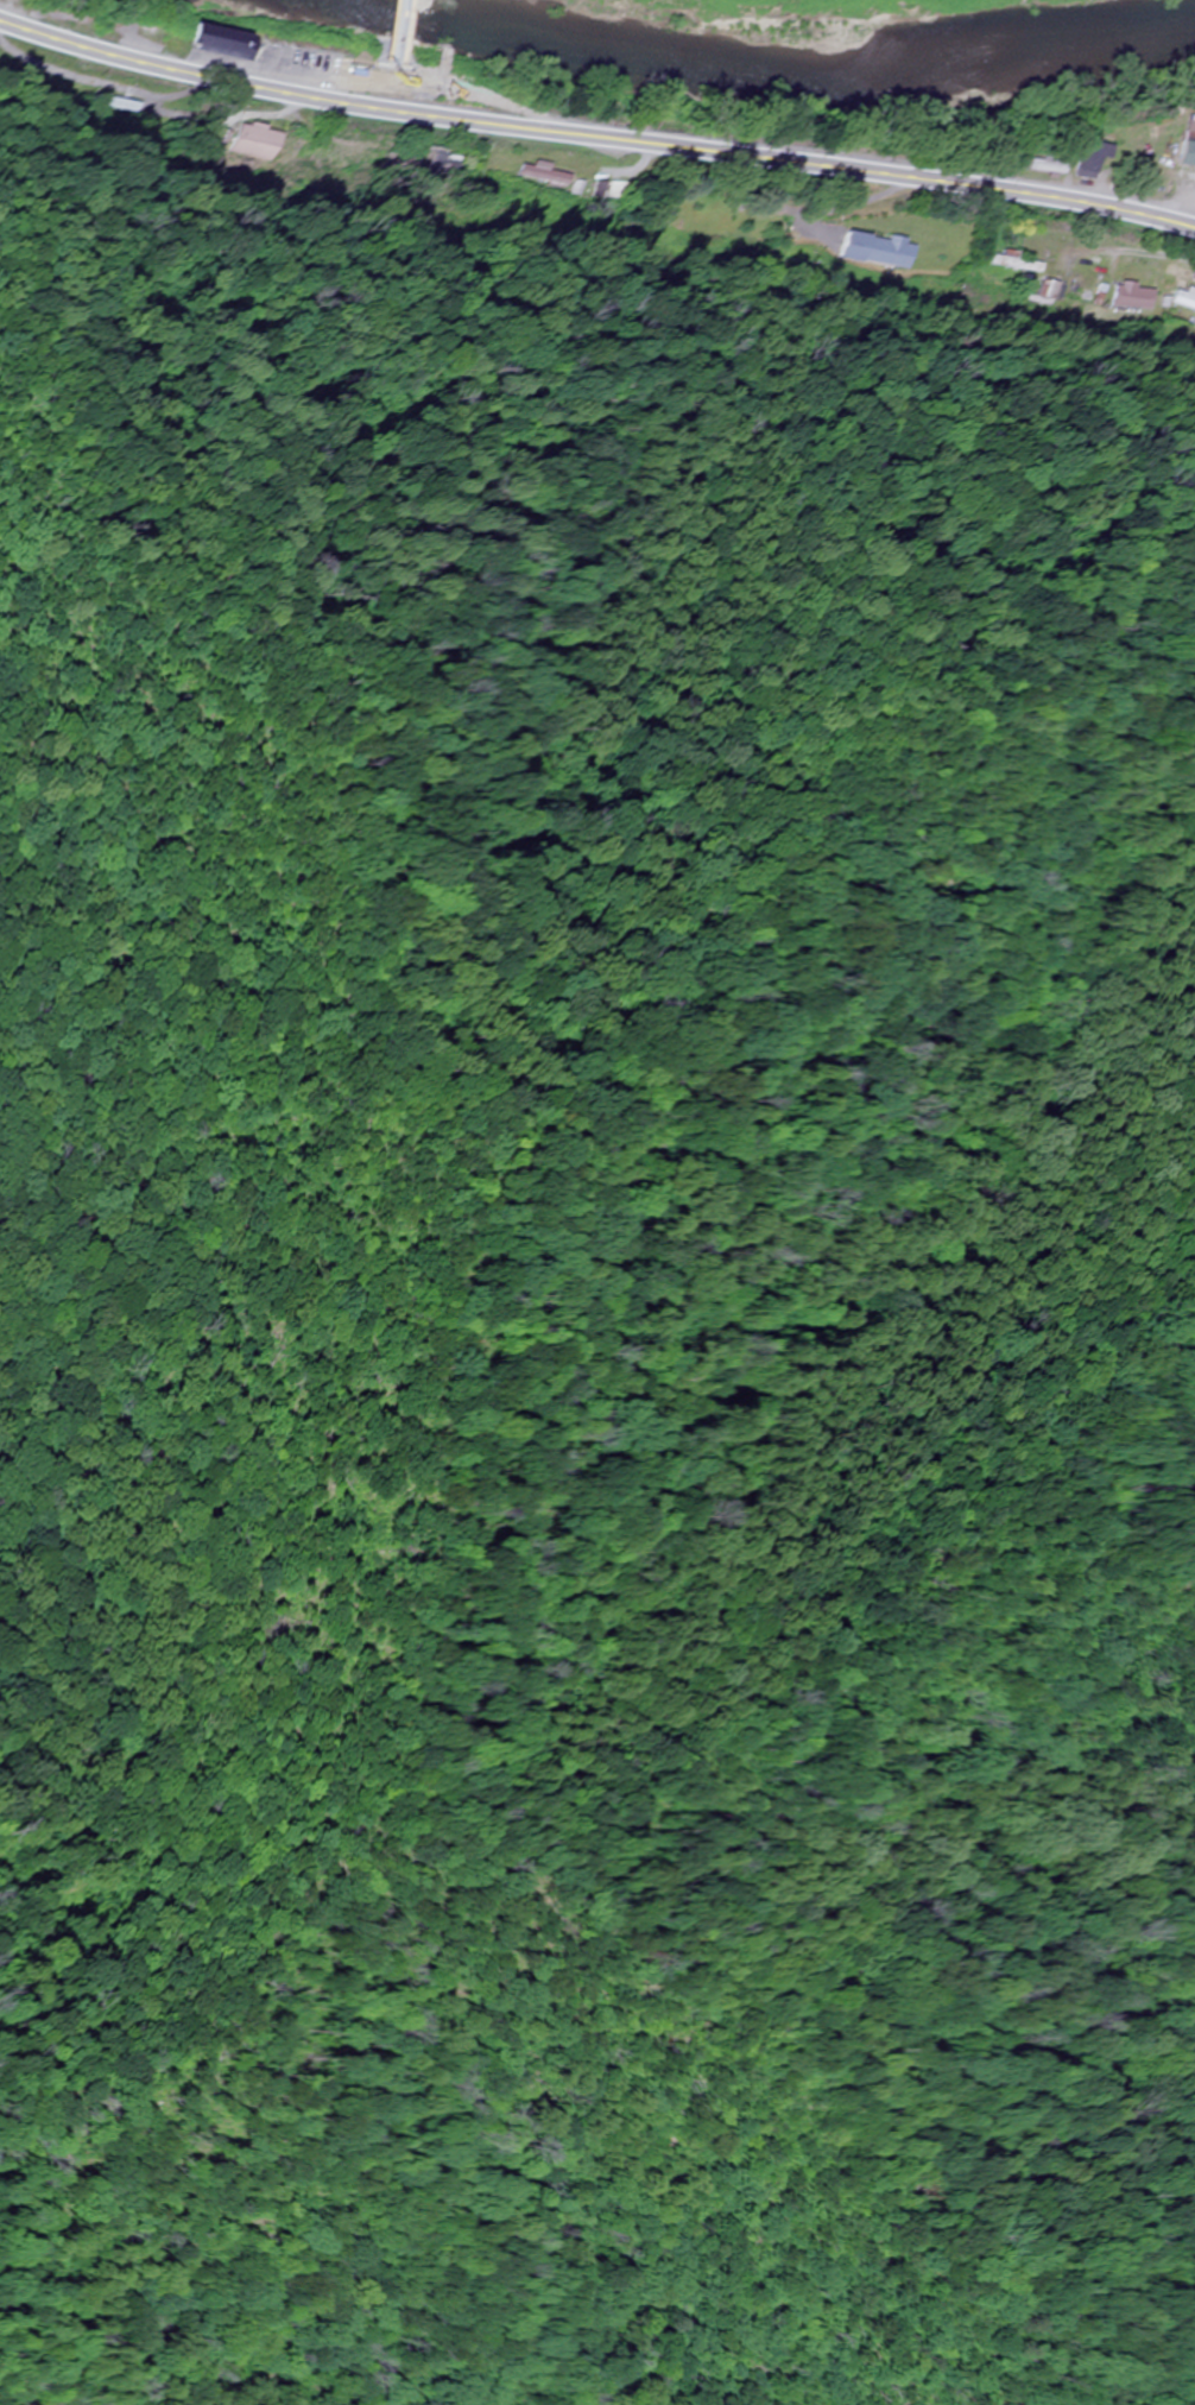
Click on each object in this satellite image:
road: (441, 43)
building: (213, 44)
river: (733, 65)
road: (426, 86)
road: (594, 135)
building: (1184, 151)
building: (1088, 162)
road: (1191, 202)
building: (879, 252)
building: (1138, 298)
building: (1188, 298)
road: (708, 1797)
road: (451, 2044)
road: (717, 2078)
road: (350, 2230)
road: (131, 2302)
road: (114, 2390)

